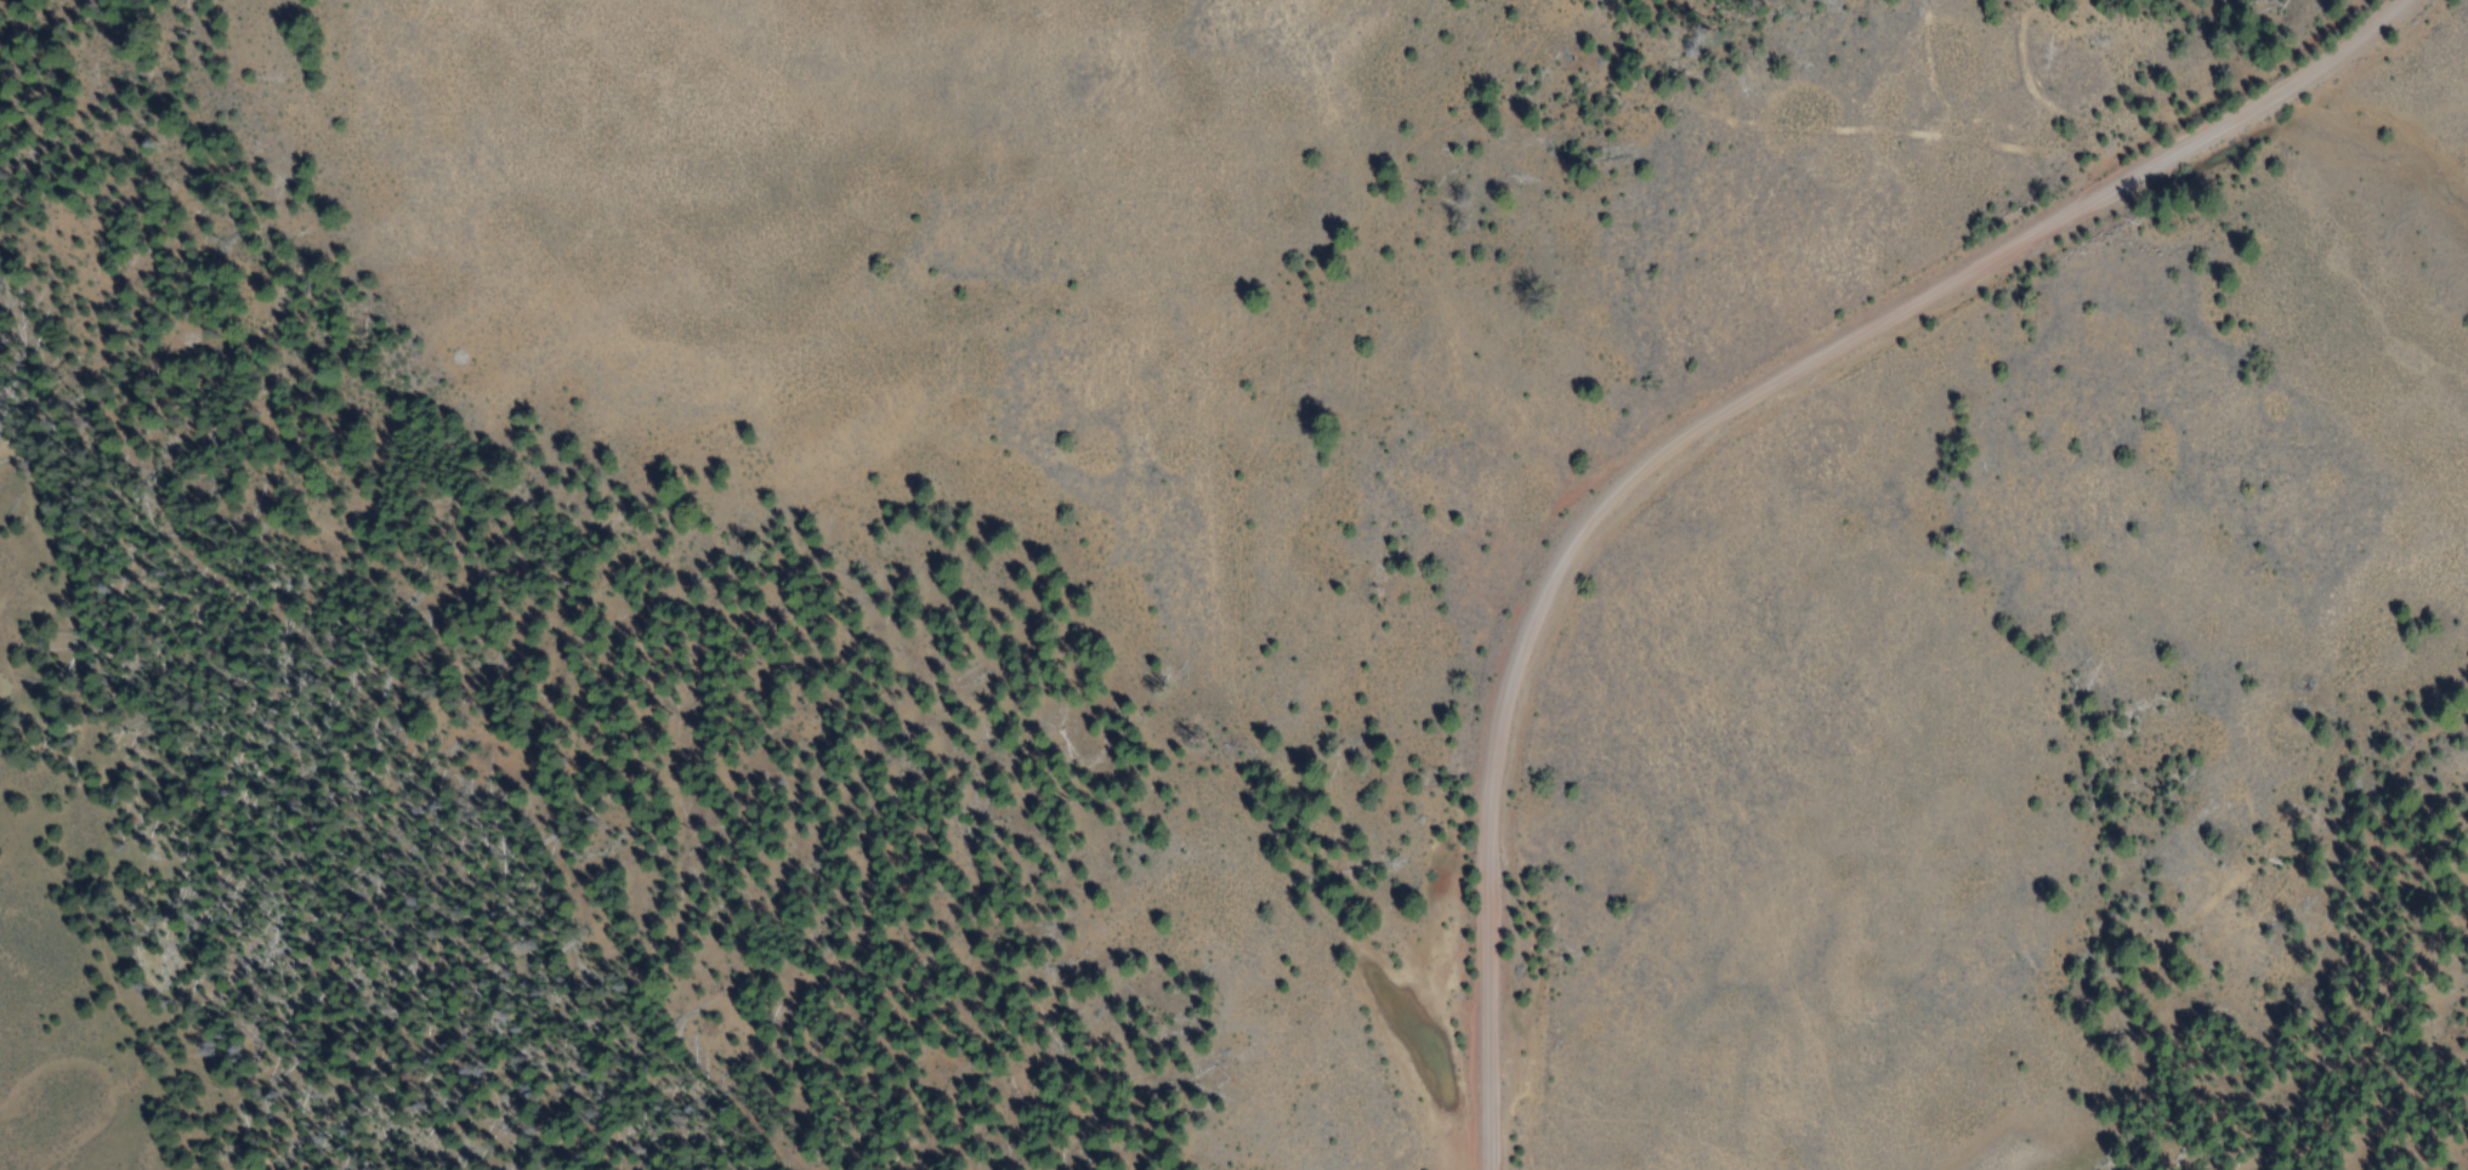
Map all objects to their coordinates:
road: (1703, 428)

